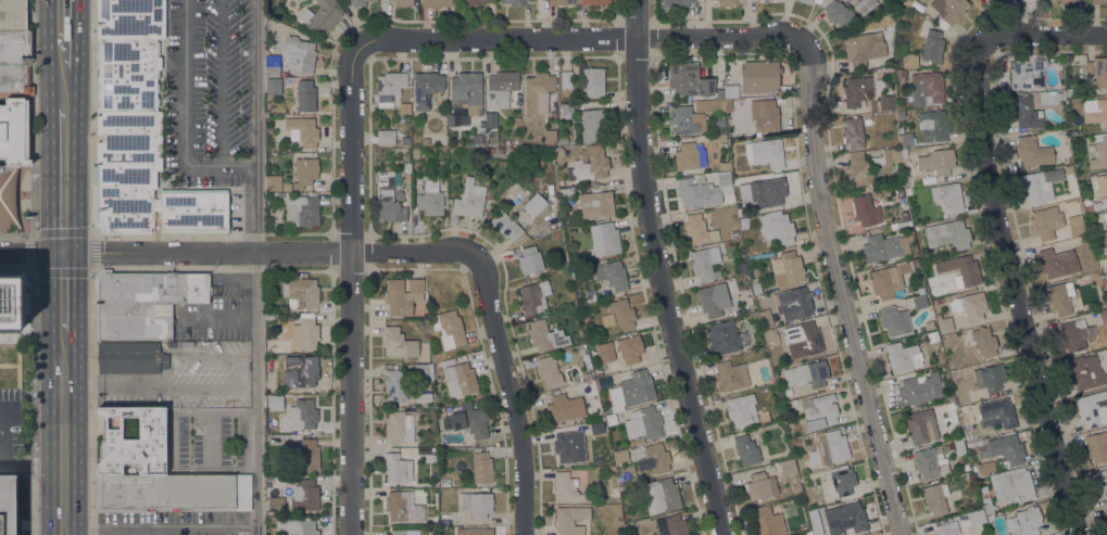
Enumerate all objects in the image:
building: (760, 1)
building: (775, 1)
building: (808, 1)
building: (1067, 1)
building: (355, 2)
building: (403, 2)
building: (473, 2)
building: (514, 2)
building: (561, 2)
building: (593, 2)
building: (677, 2)
building: (905, 2)
building: (1099, 2)
building: (437, 3)
building: (725, 3)
building: (865, 5)
road: (619, 8)
road: (654, 9)
building: (949, 9)
building: (836, 13)
building: (12, 15)
building: (322, 16)
road: (76, 20)
road: (1057, 35)
road: (567, 38)
building: (932, 46)
building: (14, 48)
building: (864, 48)
road: (48, 53)
road: (77, 54)
building: (299, 55)
building: (897, 55)
building: (909, 61)
building: (897, 63)
building: (272, 66)
building: (886, 69)
building: (719, 71)
building: (1096, 73)
building: (1027, 74)
building: (284, 75)
building: (900, 75)
building: (759, 77)
building: (683, 78)
building: (15, 80)
building: (566, 80)
building: (591, 80)
building: (128, 81)
building: (717, 86)
building: (273, 87)
building: (389, 88)
building: (501, 88)
building: (426, 89)
building: (927, 89)
building: (730, 91)
building: (466, 92)
building: (538, 92)
building: (856, 93)
building: (305, 97)
building: (1051, 98)
building: (882, 103)
building: (729, 105)
building: (901, 106)
building: (716, 110)
building: (567, 111)
building: (1095, 111)
building: (1026, 114)
road: (33, 116)
road: (90, 116)
road: (185, 117)
building: (760, 118)
building: (685, 120)
building: (867, 122)
building: (592, 125)
building: (933, 126)
building: (302, 131)
building: (13, 132)
building: (853, 132)
building: (550, 136)
building: (386, 137)
building: (492, 137)
building: (477, 139)
building: (907, 140)
building: (563, 141)
building: (406, 142)
building: (456, 142)
building: (517, 142)
building: (508, 143)
building: (490, 151)
building: (501, 151)
building: (513, 151)
building: (561, 152)
building: (902, 152)
building: (1033, 152)
building: (1099, 152)
building: (415, 153)
building: (765, 153)
building: (690, 155)
building: (268, 156)
building: (886, 157)
road: (77, 161)
building: (938, 161)
building: (594, 164)
building: (725, 166)
building: (406, 167)
building: (1068, 169)
building: (858, 170)
building: (304, 171)
building: (406, 177)
road: (49, 179)
building: (928, 180)
building: (274, 183)
building: (1100, 184)
building: (1040, 186)
building: (566, 191)
building: (703, 191)
building: (767, 192)
building: (908, 192)
building: (285, 194)
building: (400, 194)
building: (8, 198)
building: (430, 198)
building: (947, 198)
building: (388, 199)
building: (469, 199)
building: (1104, 200)
building: (151, 203)
building: (534, 204)
building: (596, 204)
building: (1096, 206)
building: (1103, 206)
building: (1087, 208)
building: (865, 211)
building: (303, 212)
building: (1105, 217)
building: (566, 218)
building: (1046, 221)
building: (506, 226)
building: (1077, 227)
building: (696, 228)
building: (777, 228)
building: (735, 233)
road: (32, 234)
building: (947, 234)
building: (605, 239)
building: (1103, 241)
building: (881, 249)
road: (275, 251)
building: (1106, 251)
building: (1102, 252)
road: (38, 253)
traffic signals: (50, 253)
traffic signals: (76, 253)
building: (529, 260)
building: (704, 263)
building: (916, 263)
building: (1057, 263)
railway: (63, 267)
road: (257, 267)
building: (743, 268)
building: (787, 269)
road: (658, 270)
building: (960, 270)
building: (612, 275)
road: (840, 276)
building: (1104, 278)
road: (1016, 280)
building: (884, 281)
building: (755, 286)
road: (351, 291)
building: (302, 292)
road: (77, 293)
building: (402, 295)
building: (534, 297)
building: (1060, 297)
building: (713, 300)
building: (939, 301)
building: (919, 302)
building: (142, 303)
building: (9, 304)
building: (794, 304)
building: (969, 306)
building: (581, 308)
building: (750, 308)
building: (622, 314)
building: (1103, 316)
building: (268, 317)
building: (583, 317)
building: (288, 318)
building: (607, 319)
road: (219, 320)
building: (765, 320)
building: (894, 320)
building: (944, 324)
building: (929, 326)
building: (449, 329)
building: (305, 333)
building: (1075, 334)
building: (545, 336)
building: (9, 337)
building: (726, 337)
building: (769, 337)
building: (804, 341)
building: (984, 342)
building: (399, 343)
building: (630, 348)
building: (581, 351)
building: (128, 357)
building: (903, 357)
building: (448, 362)
building: (268, 368)
building: (425, 370)
building: (549, 371)
building: (295, 372)
building: (599, 372)
building: (1083, 372)
building: (807, 374)
building: (731, 375)
building: (992, 377)
building: (460, 379)
building: (394, 384)
road: (222, 387)
building: (593, 388)
building: (920, 390)
road: (514, 392)
building: (630, 392)
road: (50, 394)
building: (949, 396)
building: (285, 397)
building: (426, 397)
building: (963, 398)
road: (35, 400)
road: (92, 400)
building: (949, 405)
building: (281, 407)
building: (558, 408)
building: (1092, 408)
building: (741, 410)
building: (819, 411)
building: (305, 413)
building: (997, 413)
building: (611, 419)
building: (467, 420)
building: (584, 420)
building: (645, 421)
building: (920, 425)
building: (399, 426)
road: (3, 431)
road: (77, 434)
building: (131, 441)
building: (795, 441)
building: (747, 447)
building: (958, 447)
building: (1096, 447)
building: (565, 448)
building: (829, 448)
building: (1006, 448)
building: (309, 455)
building: (621, 457)
road: (11, 458)
building: (656, 458)
building: (929, 463)
road: (36, 464)
road: (63, 464)
building: (268, 464)
building: (983, 467)
building: (397, 468)
building: (481, 468)
building: (788, 468)
building: (969, 474)
building: (802, 480)
building: (843, 482)
building: (1102, 482)
building: (443, 483)
building: (1011, 485)
building: (760, 486)
building: (566, 488)
building: (172, 492)
building: (661, 495)
building: (304, 496)
building: (935, 498)
building: (7, 505)
building: (276, 505)
building: (475, 505)
building: (986, 505)
building: (403, 507)
building: (1106, 511)
building: (844, 518)
building: (976, 518)
building: (570, 520)
building: (449, 521)
building: (767, 521)
building: (1024, 521)
building: (816, 522)
building: (676, 524)
building: (294, 526)
road: (169, 527)
building: (947, 528)
building: (405, 532)
building: (475, 532)
building: (808, 532)

